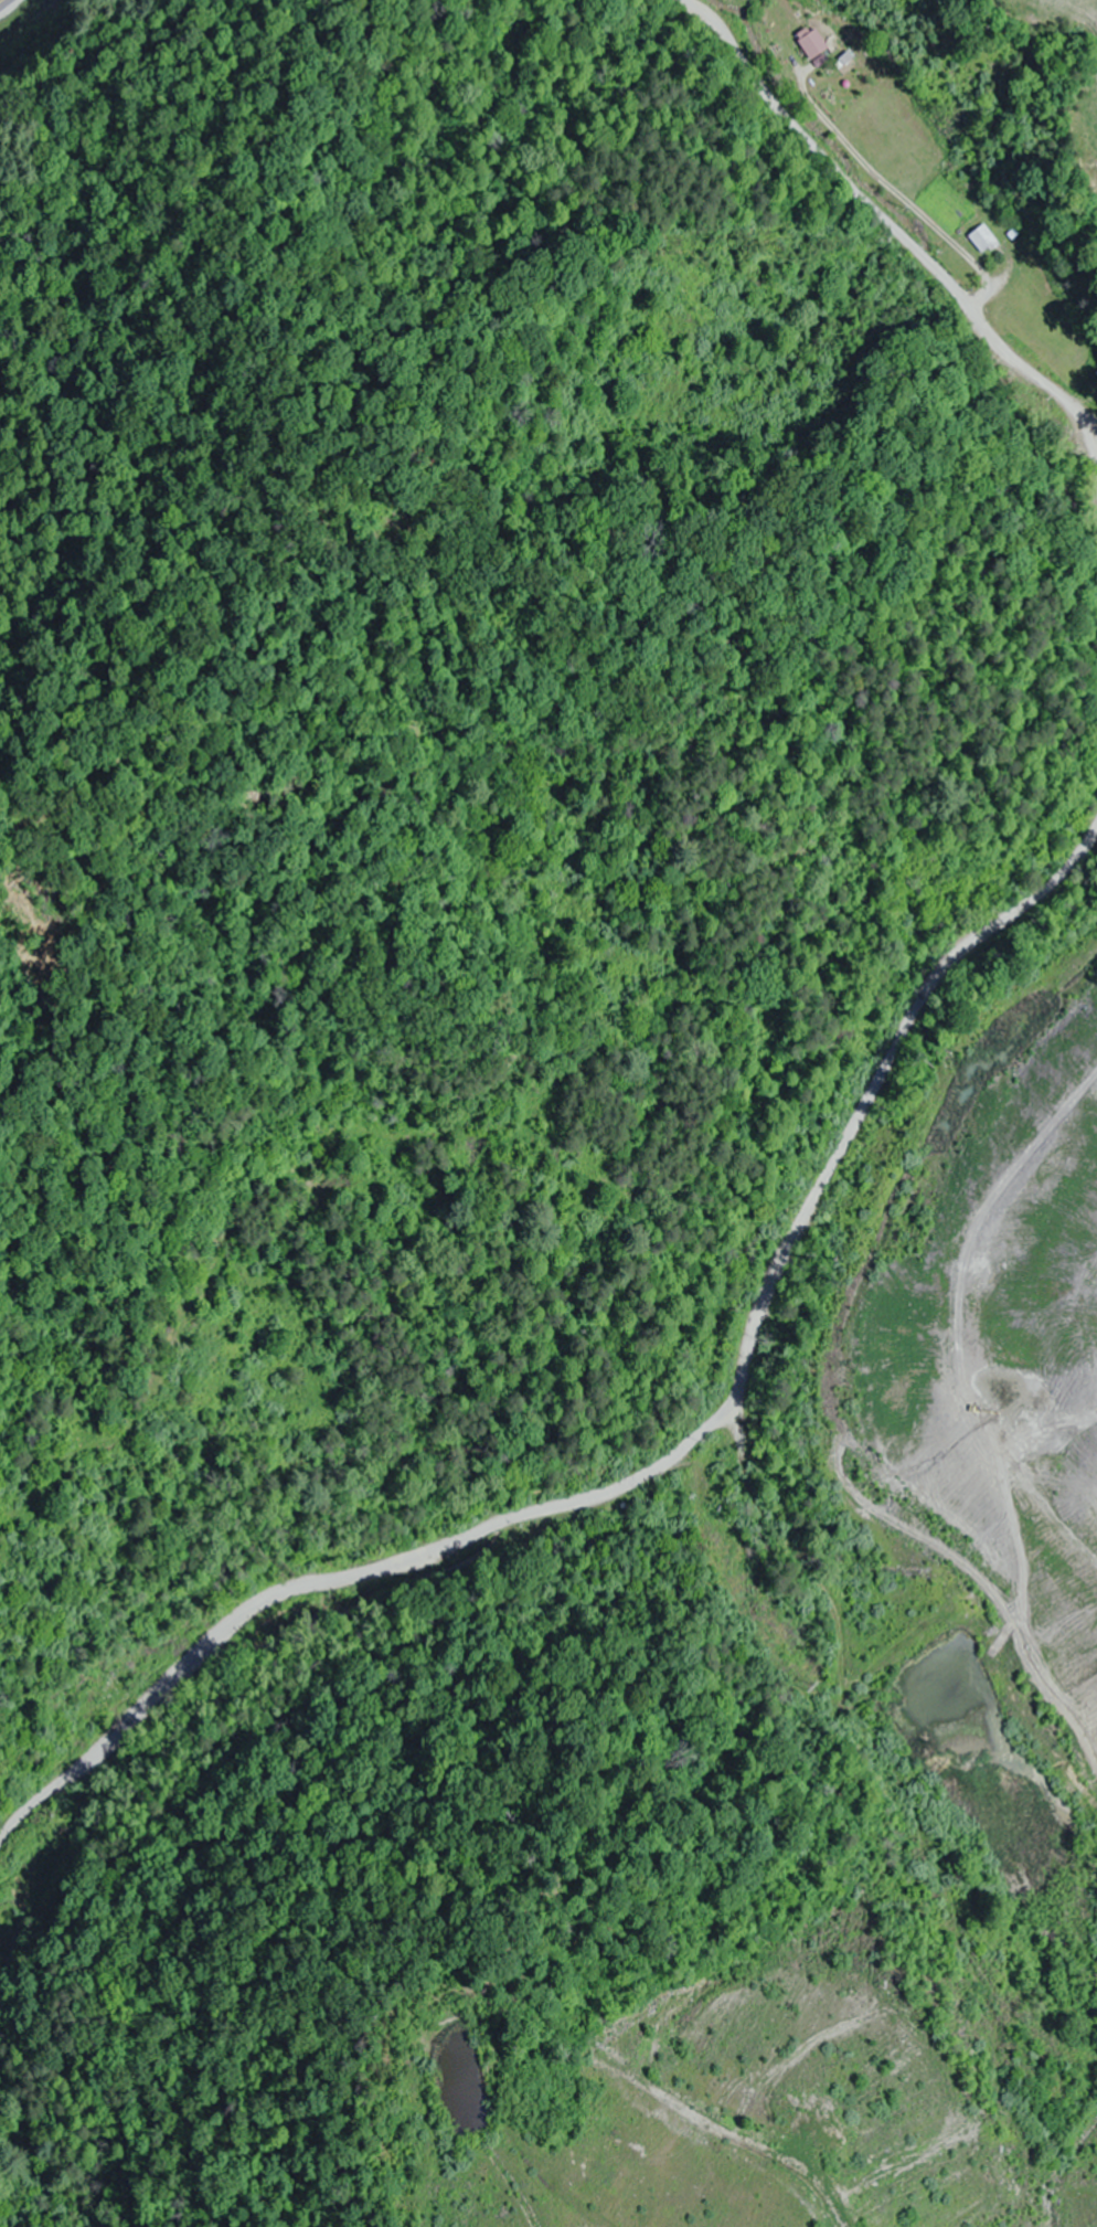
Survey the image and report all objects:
building: (813, 42)
road: (893, 224)
building: (984, 240)
road: (665, 1456)
building: (1063, 1597)

